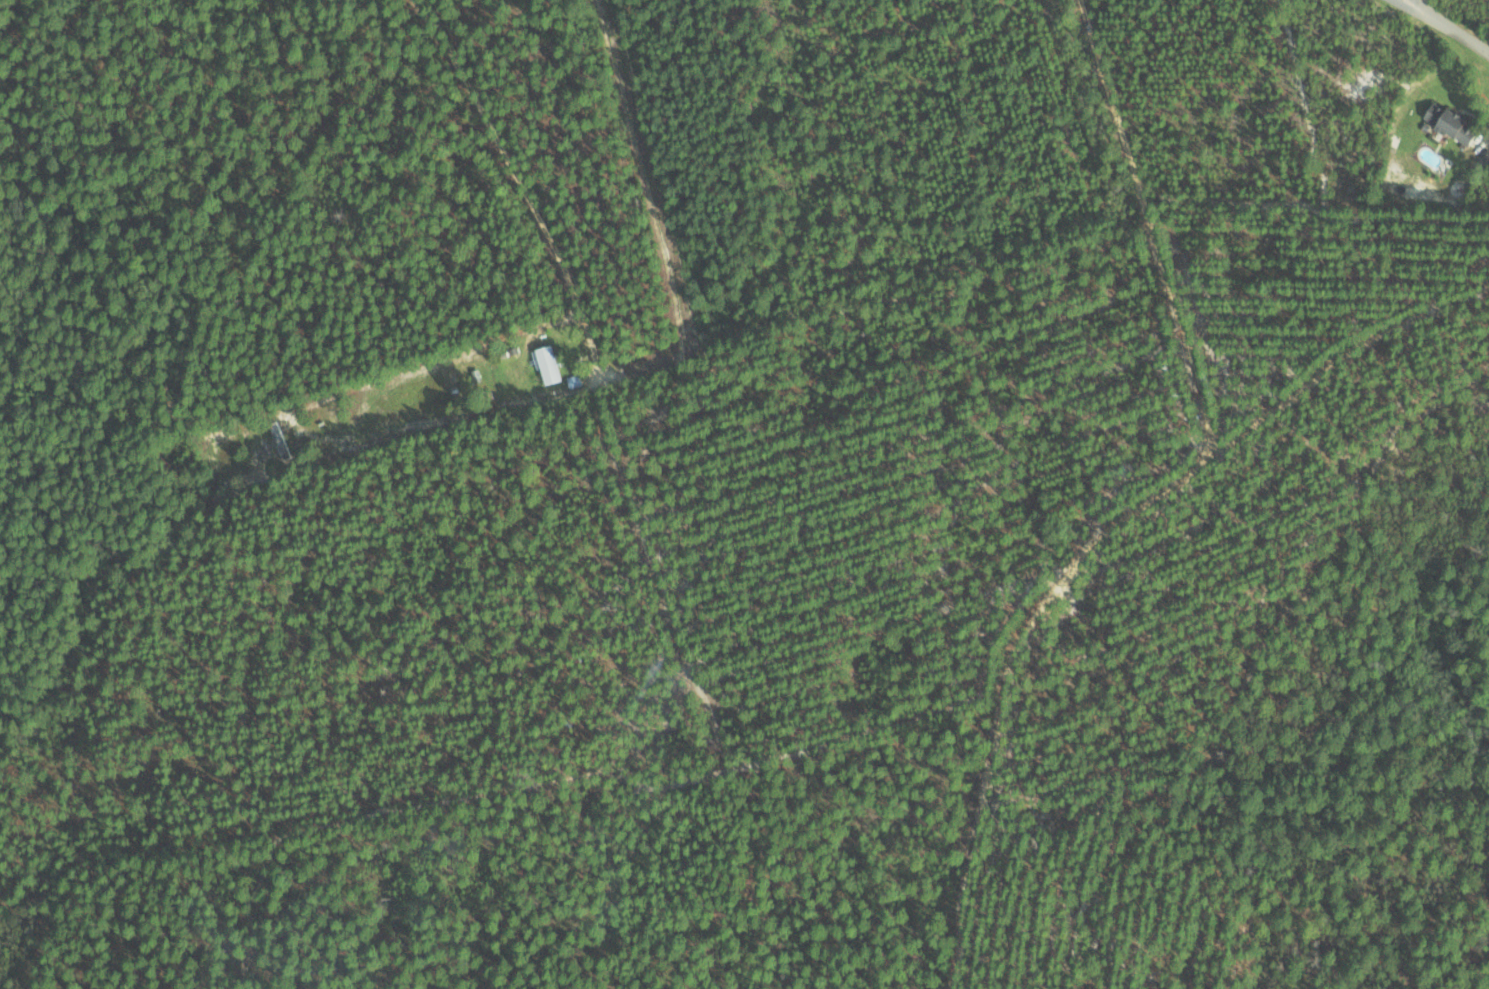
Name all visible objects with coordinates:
road: (1443, 28)
building: (1452, 125)
road: (520, 177)
building: (547, 363)

